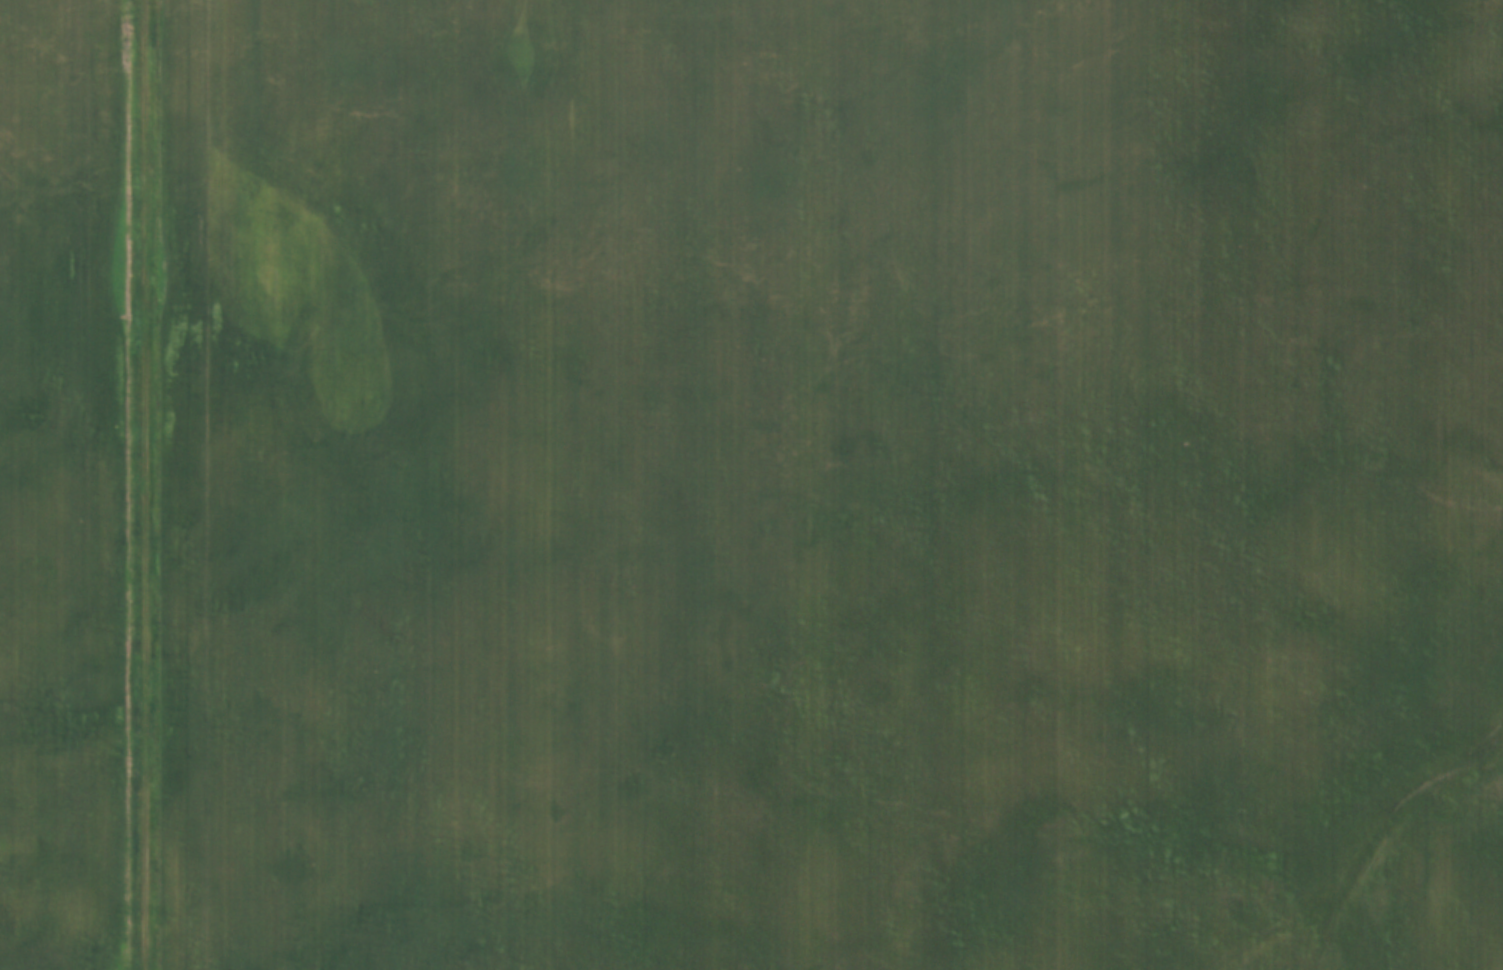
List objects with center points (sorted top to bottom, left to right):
road: (144, 485)

